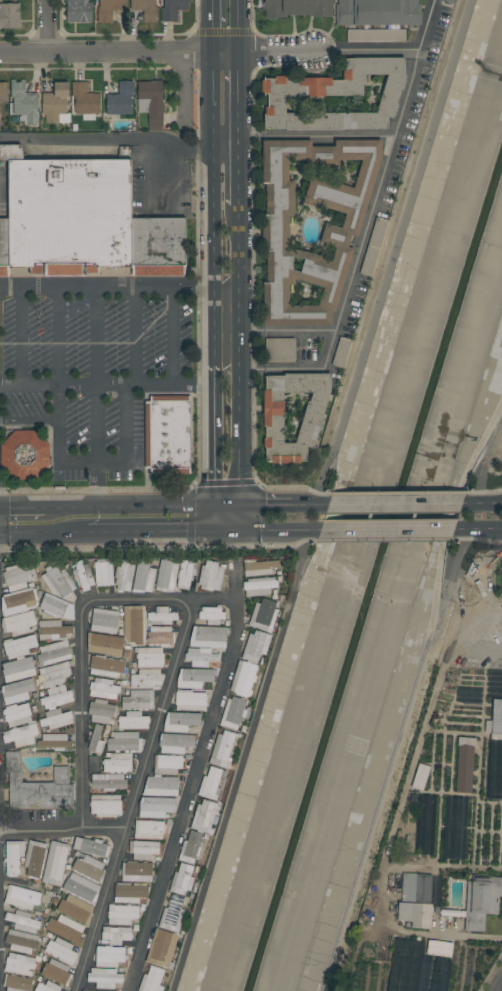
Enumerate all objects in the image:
building: (450, 1)
building: (298, 8)
building: (109, 9)
building: (146, 9)
building: (172, 9)
building: (79, 11)
building: (378, 12)
building: (10, 15)
road: (237, 25)
road: (48, 26)
road: (212, 26)
building: (376, 35)
road: (396, 51)
road: (160, 52)
building: (4, 92)
building: (314, 93)
building: (121, 99)
building: (85, 100)
building: (24, 102)
building: (151, 102)
building: (56, 104)
road: (238, 128)
road: (316, 137)
road: (107, 141)
road: (226, 151)
road: (214, 209)
building: (68, 214)
building: (342, 231)
building: (4, 247)
building: (159, 247)
building: (374, 247)
road: (359, 250)
road: (394, 251)
road: (107, 285)
road: (287, 331)
road: (22, 335)
road: (136, 335)
building: (280, 349)
building: (342, 352)
road: (239, 354)
road: (193, 384)
road: (136, 385)
road: (96, 396)
building: (314, 414)
building: (168, 435)
road: (214, 435)
road: (59, 447)
building: (25, 455)
road: (485, 460)
road: (303, 502)
road: (321, 502)
road: (397, 502)
road: (250, 503)
road: (276, 503)
road: (474, 503)
road: (492, 503)
road: (227, 504)
traffic signals: (239, 504)
traffic signals: (215, 505)
road: (129, 506)
road: (22, 509)
road: (233, 517)
road: (221, 518)
road: (450, 519)
road: (269, 530)
road: (310, 530)
road: (388, 530)
road: (479, 530)
traffic signals: (228, 531)
road: (233, 531)
road: (158, 532)
road: (44, 533)
building: (258, 567)
building: (104, 573)
building: (187, 573)
building: (82, 575)
building: (166, 575)
building: (211, 575)
building: (18, 576)
building: (124, 576)
building: (143, 577)
building: (58, 582)
building: (259, 586)
building: (18, 602)
road: (157, 602)
building: (57, 607)
building: (212, 615)
building: (263, 615)
building: (161, 616)
road: (467, 616)
road: (484, 617)
building: (104, 621)
building: (18, 623)
building: (133, 624)
building: (54, 630)
building: (160, 635)
building: (209, 637)
building: (105, 645)
building: (19, 646)
building: (255, 646)
building: (127, 653)
building: (201, 656)
building: (149, 657)
building: (54, 664)
building: (107, 666)
building: (18, 670)
building: (195, 678)
building: (243, 678)
building: (147, 679)
building: (104, 689)
building: (17, 691)
building: (35, 696)
building: (56, 697)
building: (139, 700)
building: (190, 701)
building: (34, 709)
building: (101, 712)
building: (234, 713)
building: (17, 715)
building: (497, 717)
road: (80, 718)
building: (56, 719)
building: (133, 720)
building: (180, 721)
building: (21, 735)
building: (96, 740)
building: (54, 742)
building: (124, 742)
building: (176, 743)
building: (224, 750)
road: (392, 757)
building: (189, 758)
road: (243, 761)
building: (118, 763)
building: (167, 764)
building: (464, 769)
building: (108, 781)
road: (192, 781)
building: (213, 784)
building: (162, 786)
building: (38, 787)
road: (135, 796)
building: (106, 805)
building: (157, 807)
building: (205, 816)
building: (169, 823)
road: (62, 829)
building: (149, 829)
road: (392, 830)
building: (425, 830)
building: (206, 837)
building: (91, 847)
building: (191, 847)
building: (144, 849)
building: (13, 857)
building: (35, 859)
building: (55, 863)
building: (89, 867)
building: (196, 870)
building: (137, 871)
building: (182, 879)
building: (82, 887)
building: (417, 889)
building: (130, 892)
building: (48, 894)
building: (22, 897)
building: (55, 900)
building: (482, 902)
building: (143, 908)
building: (76, 909)
building: (44, 910)
building: (122, 914)
building: (173, 914)
building: (44, 915)
building: (416, 915)
building: (23, 921)
building: (66, 928)
building: (49, 935)
building: (116, 935)
building: (44, 940)
road: (494, 940)
building: (22, 941)
building: (161, 948)
building: (439, 948)
building: (61, 950)
building: (110, 956)
building: (38, 958)
building: (44, 959)
building: (20, 964)
building: (405, 965)
building: (57, 972)
building: (105, 977)
building: (39, 979)
building: (152, 979)
building: (17, 983)
building: (48, 987)
building: (161, 988)
road: (501, 989)
building: (82, 990)

